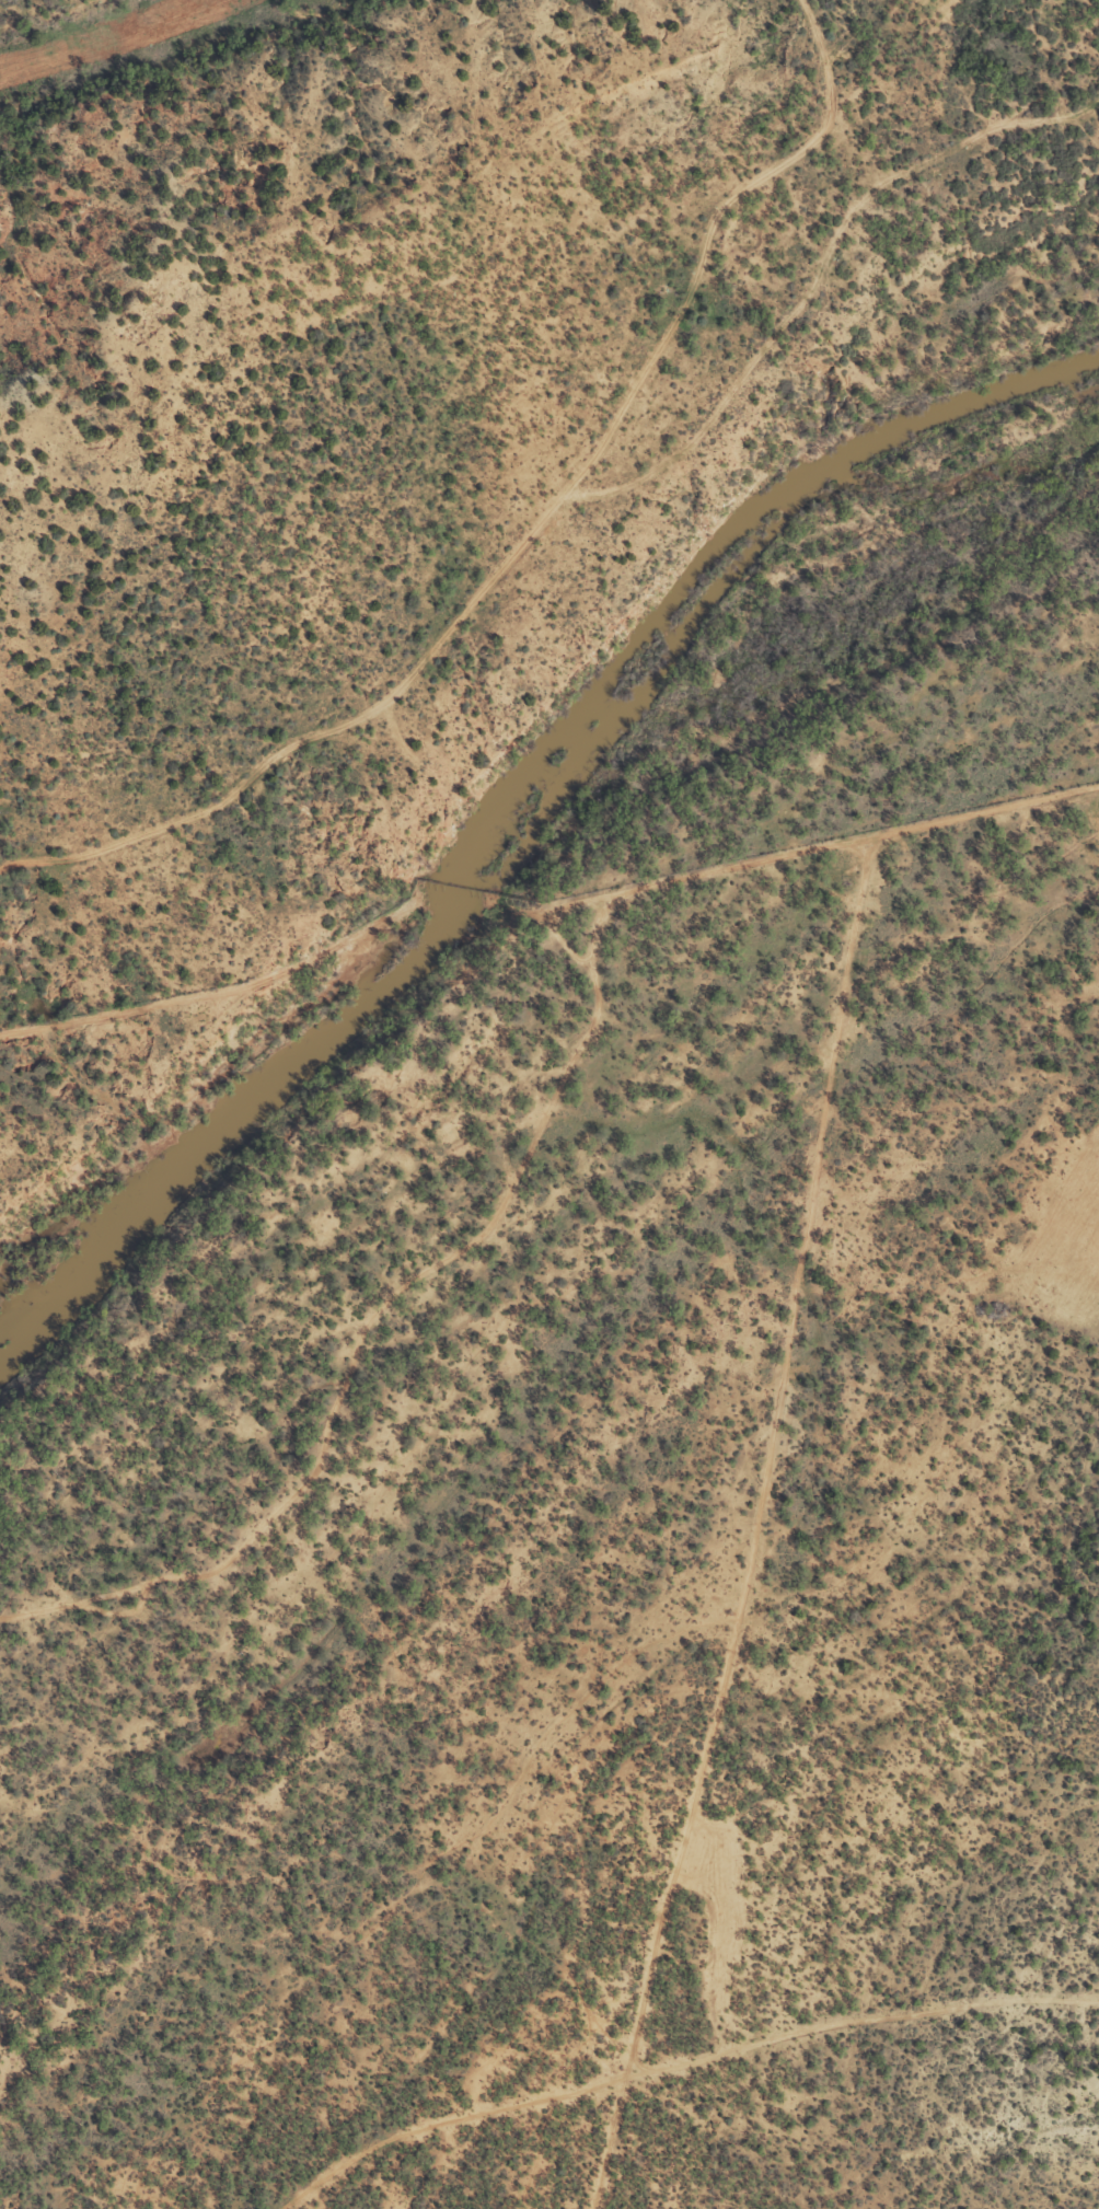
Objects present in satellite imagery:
river: (502, 801)
road: (1097, 2206)

